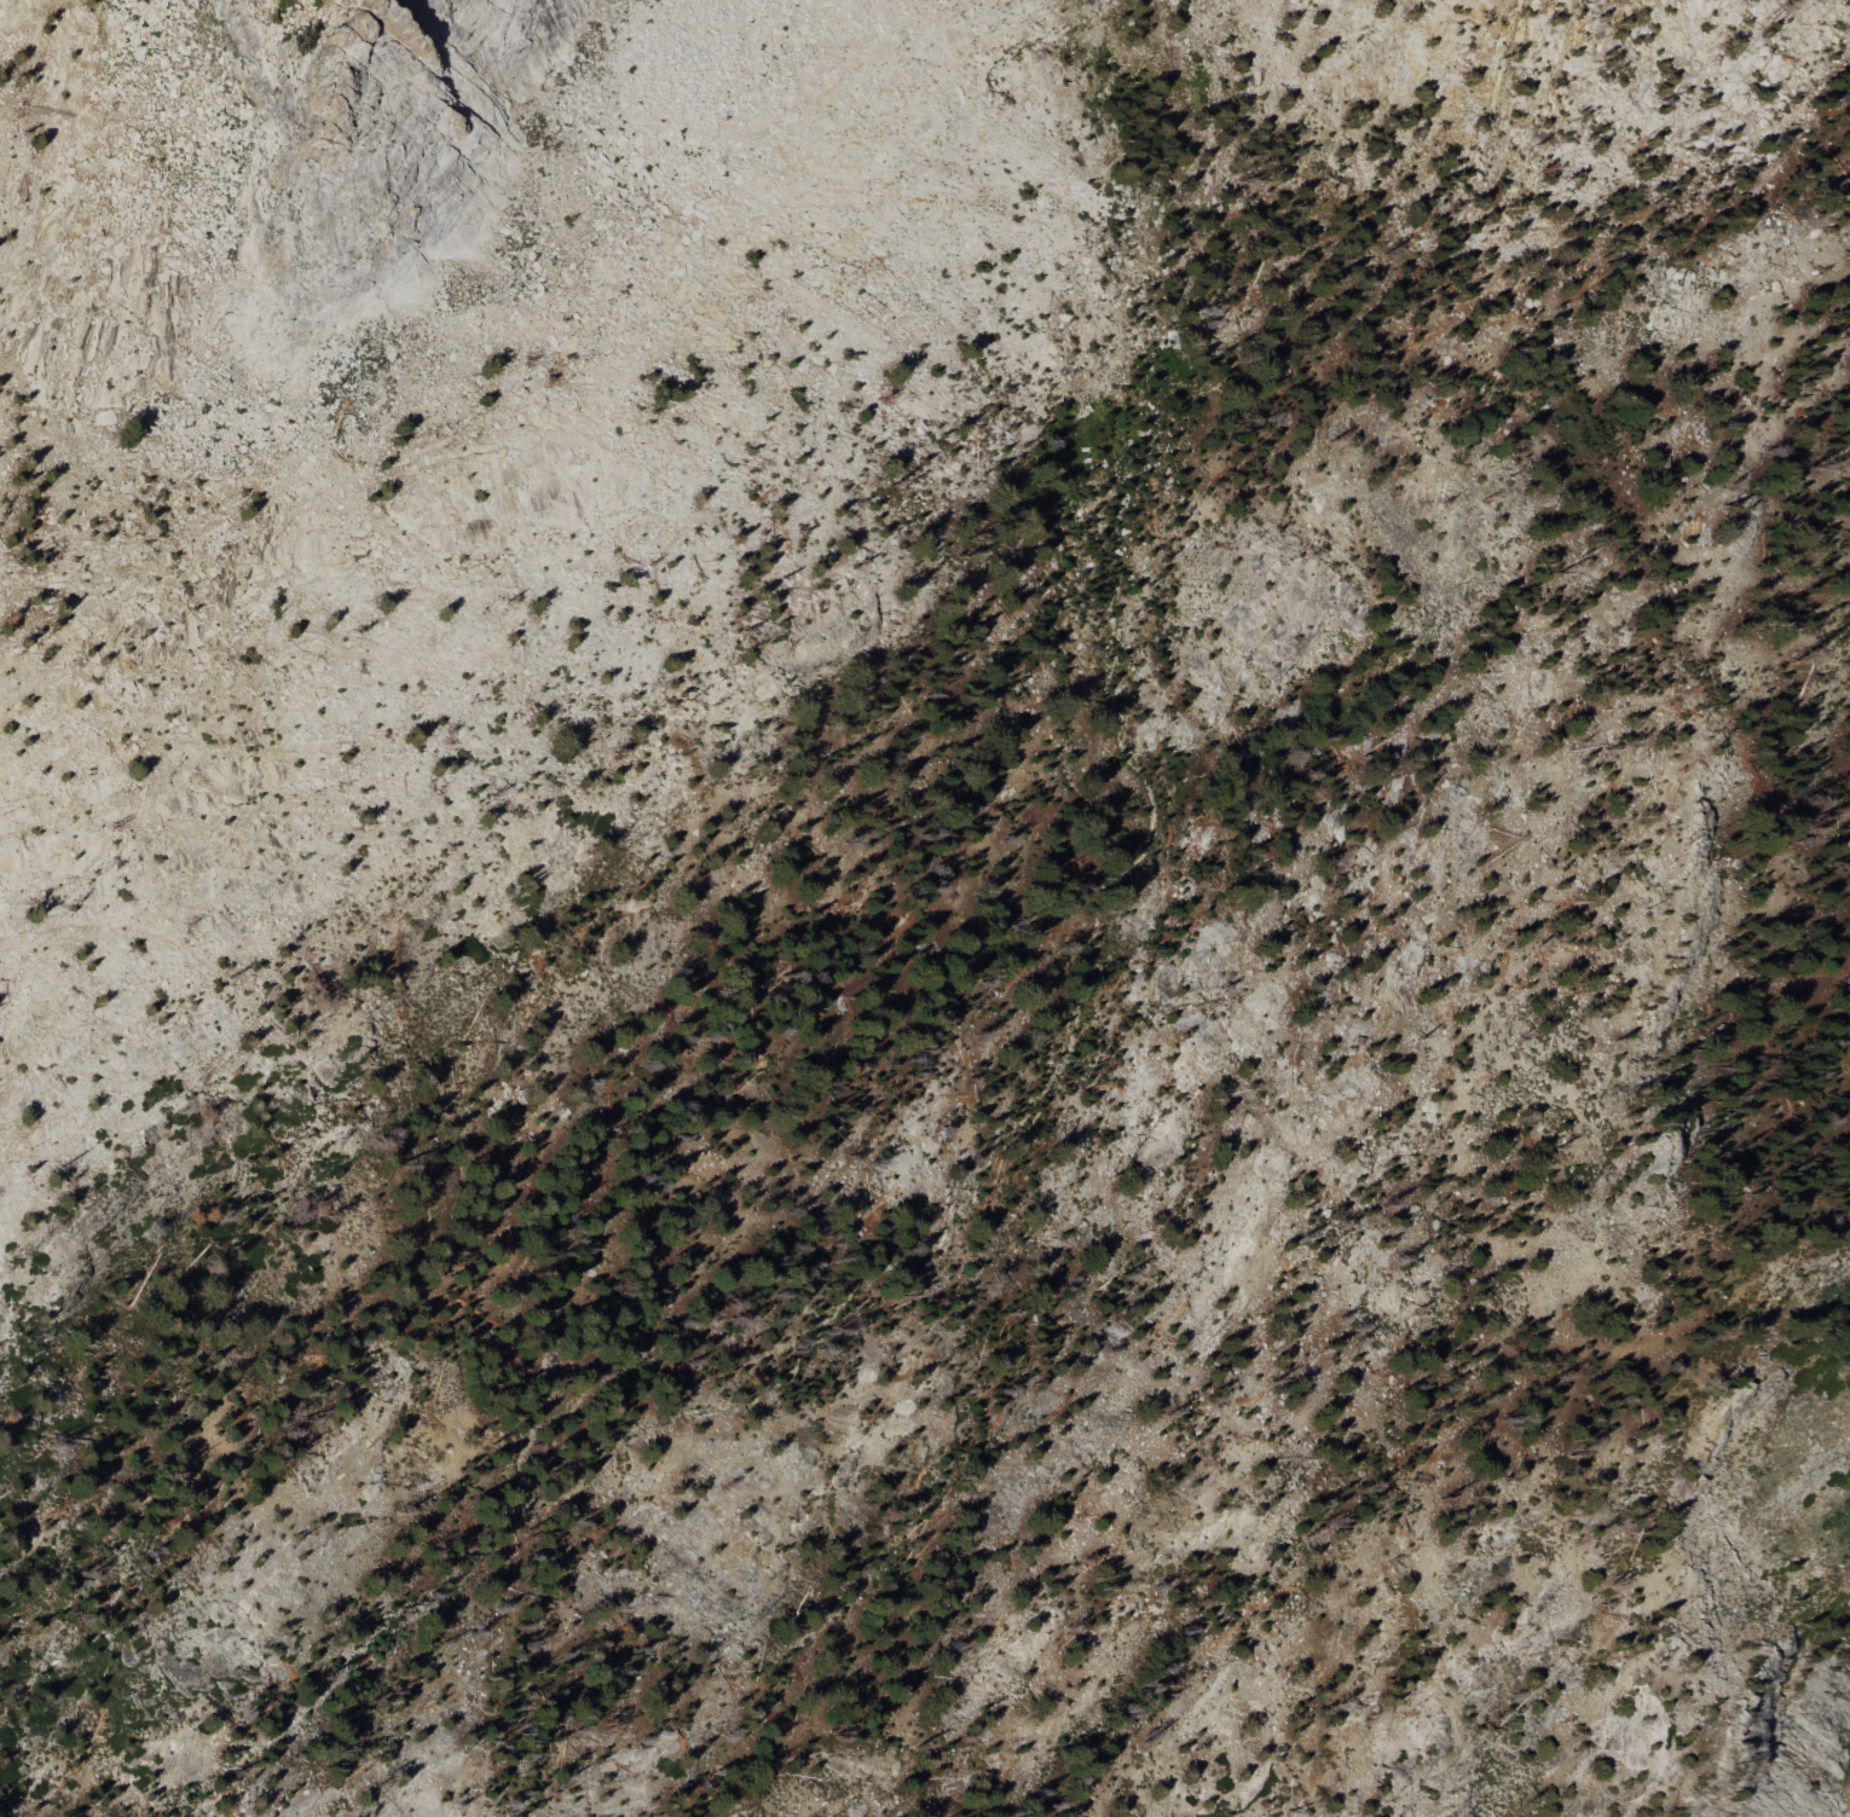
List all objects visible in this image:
road: (1817, 18)

